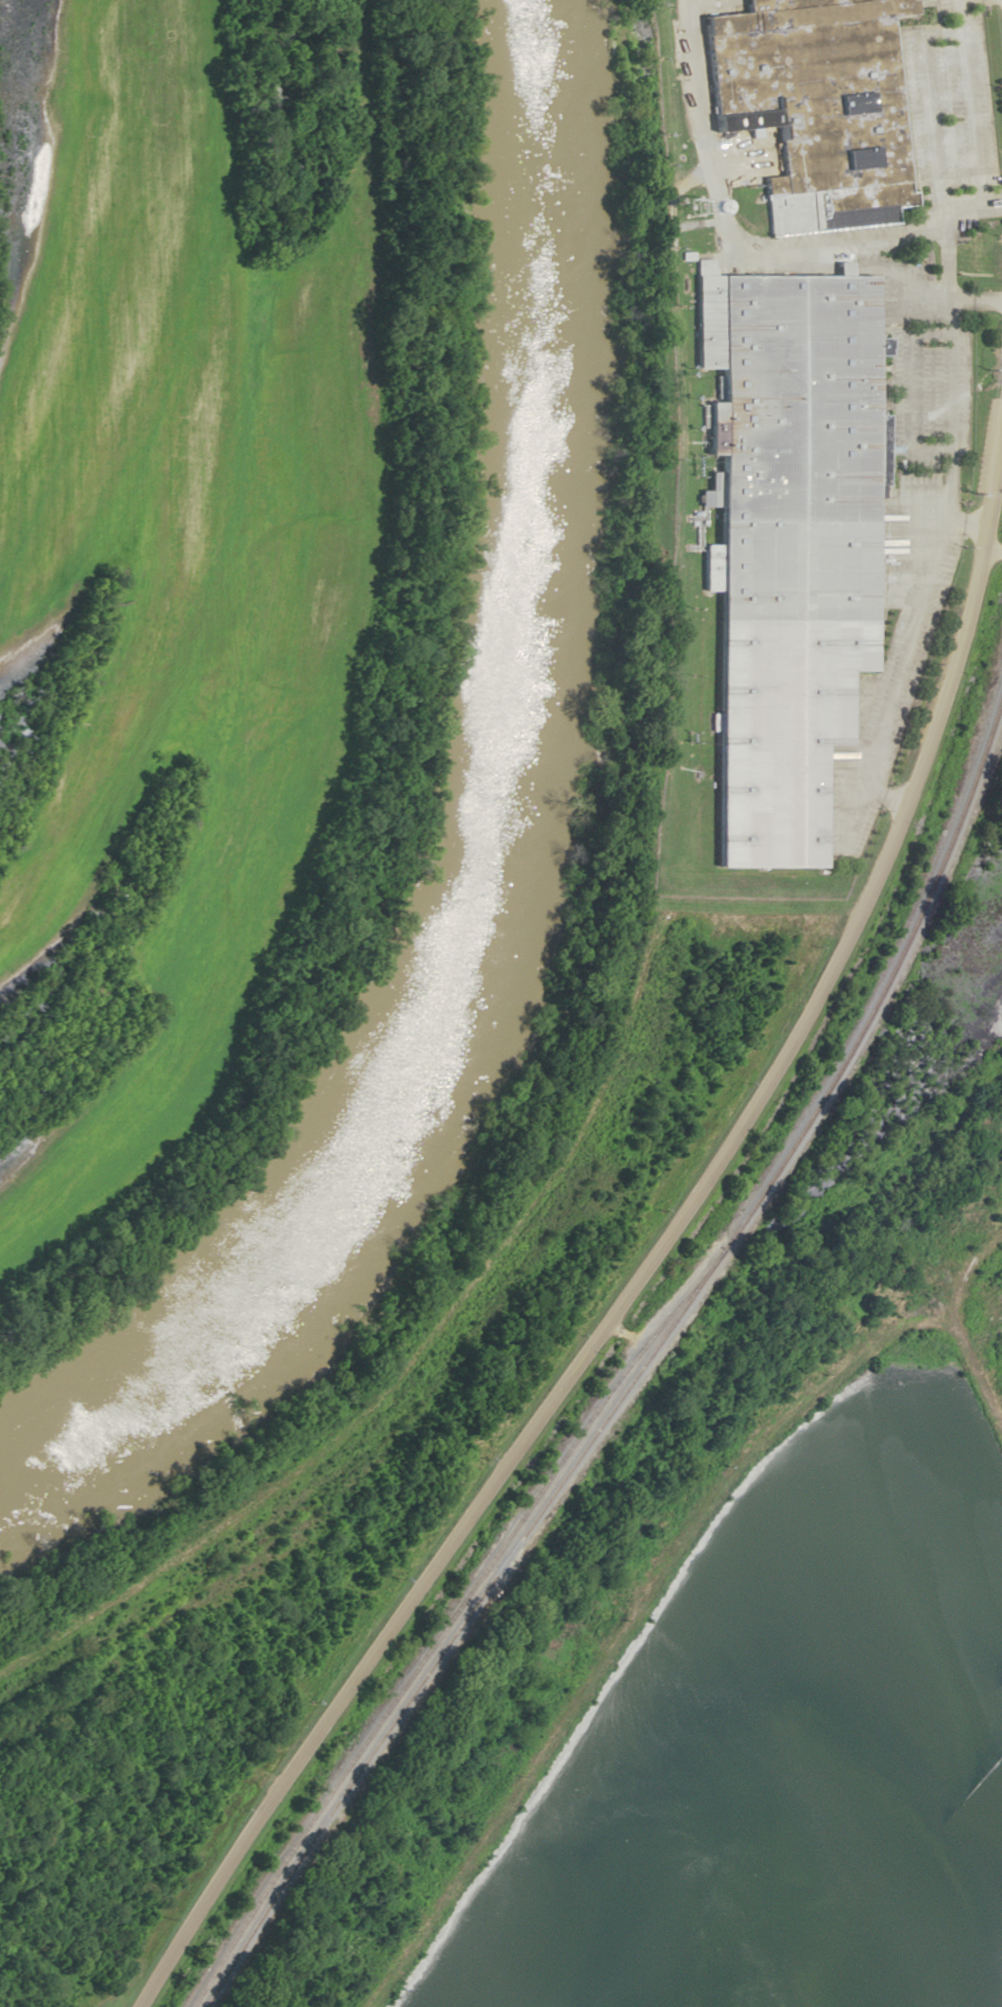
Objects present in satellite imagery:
building: (817, 105)
road: (744, 244)
building: (975, 252)
road: (947, 400)
building: (787, 542)
road: (990, 552)
crop: (180, 562)
river: (486, 815)
road: (645, 1260)
railway: (757, 1286)
road: (956, 1334)
railway: (639, 1369)
railway: (447, 1621)

